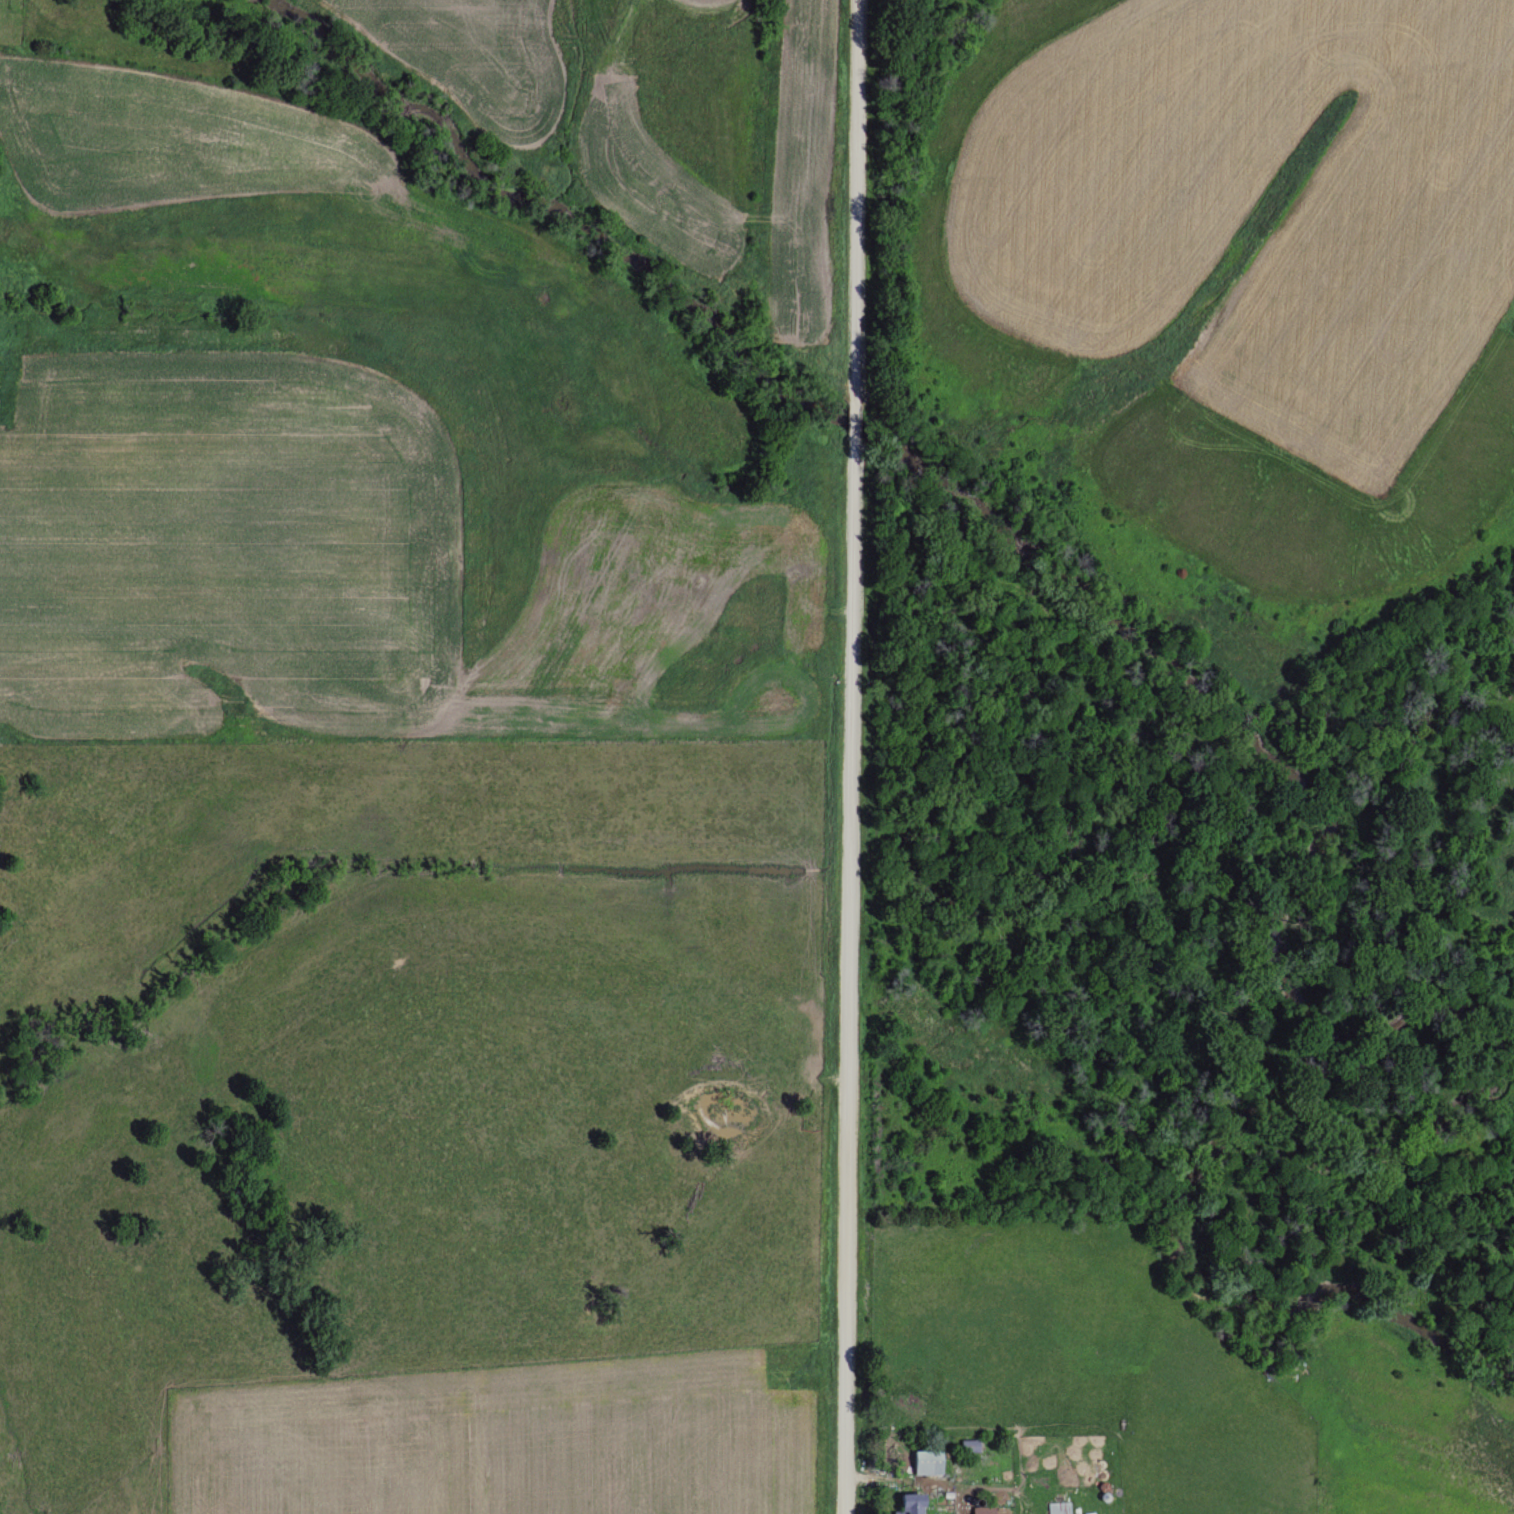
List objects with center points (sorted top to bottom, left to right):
park: (8, 24)
road: (856, 757)
building: (921, 1463)
building: (904, 1504)
building: (978, 1511)

